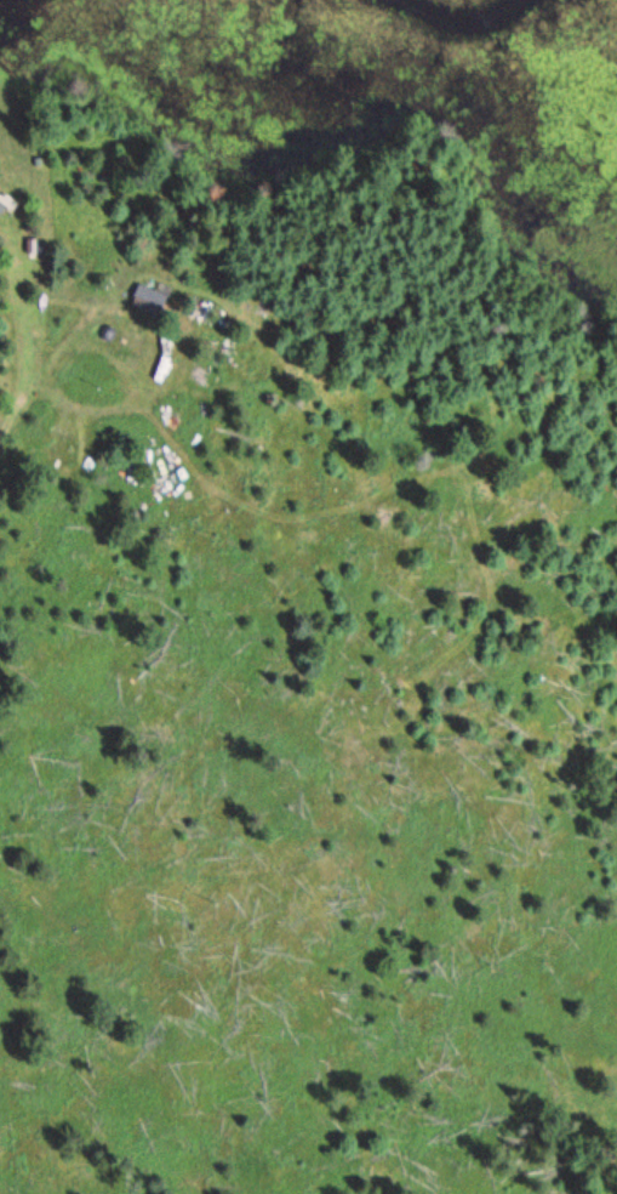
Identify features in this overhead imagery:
building: (152, 298)

